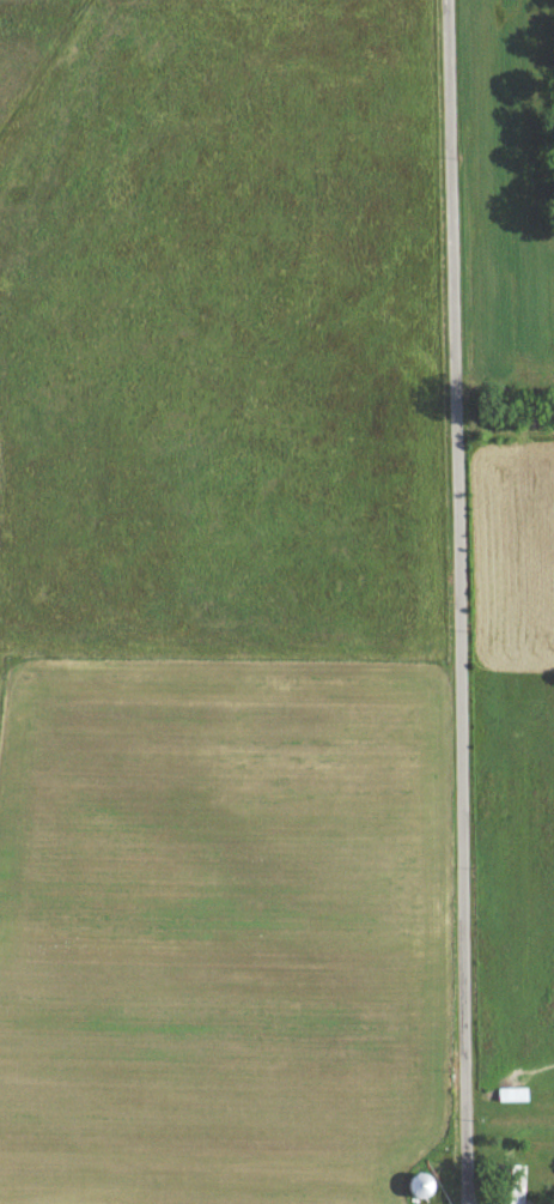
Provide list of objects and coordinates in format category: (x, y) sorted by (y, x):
road: (459, 601)
building: (407, 1187)

